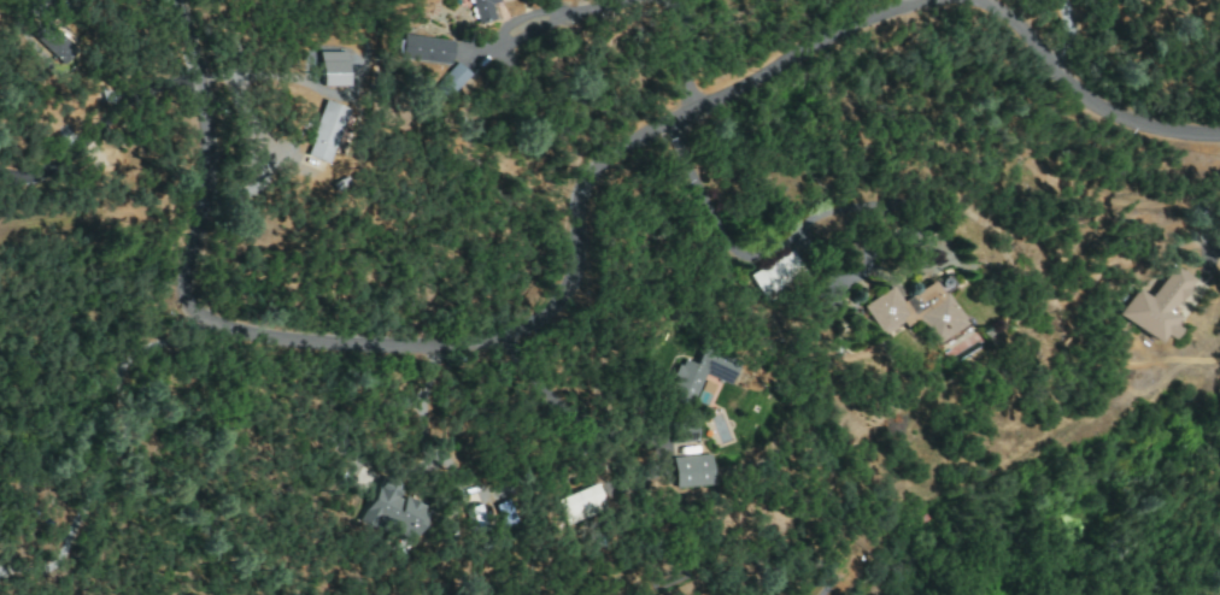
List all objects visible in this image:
road: (899, 5)
building: (481, 10)
building: (59, 48)
building: (424, 48)
building: (333, 69)
building: (451, 79)
road: (1086, 94)
building: (319, 130)
road: (95, 132)
road: (1213, 252)
road: (766, 253)
building: (855, 260)
building: (776, 273)
building: (1154, 306)
building: (915, 312)
road: (492, 336)
building: (696, 376)
road: (561, 406)
road: (420, 411)
building: (681, 434)
building: (691, 471)
building: (582, 505)
building: (392, 512)
building: (508, 512)
building: (477, 517)

